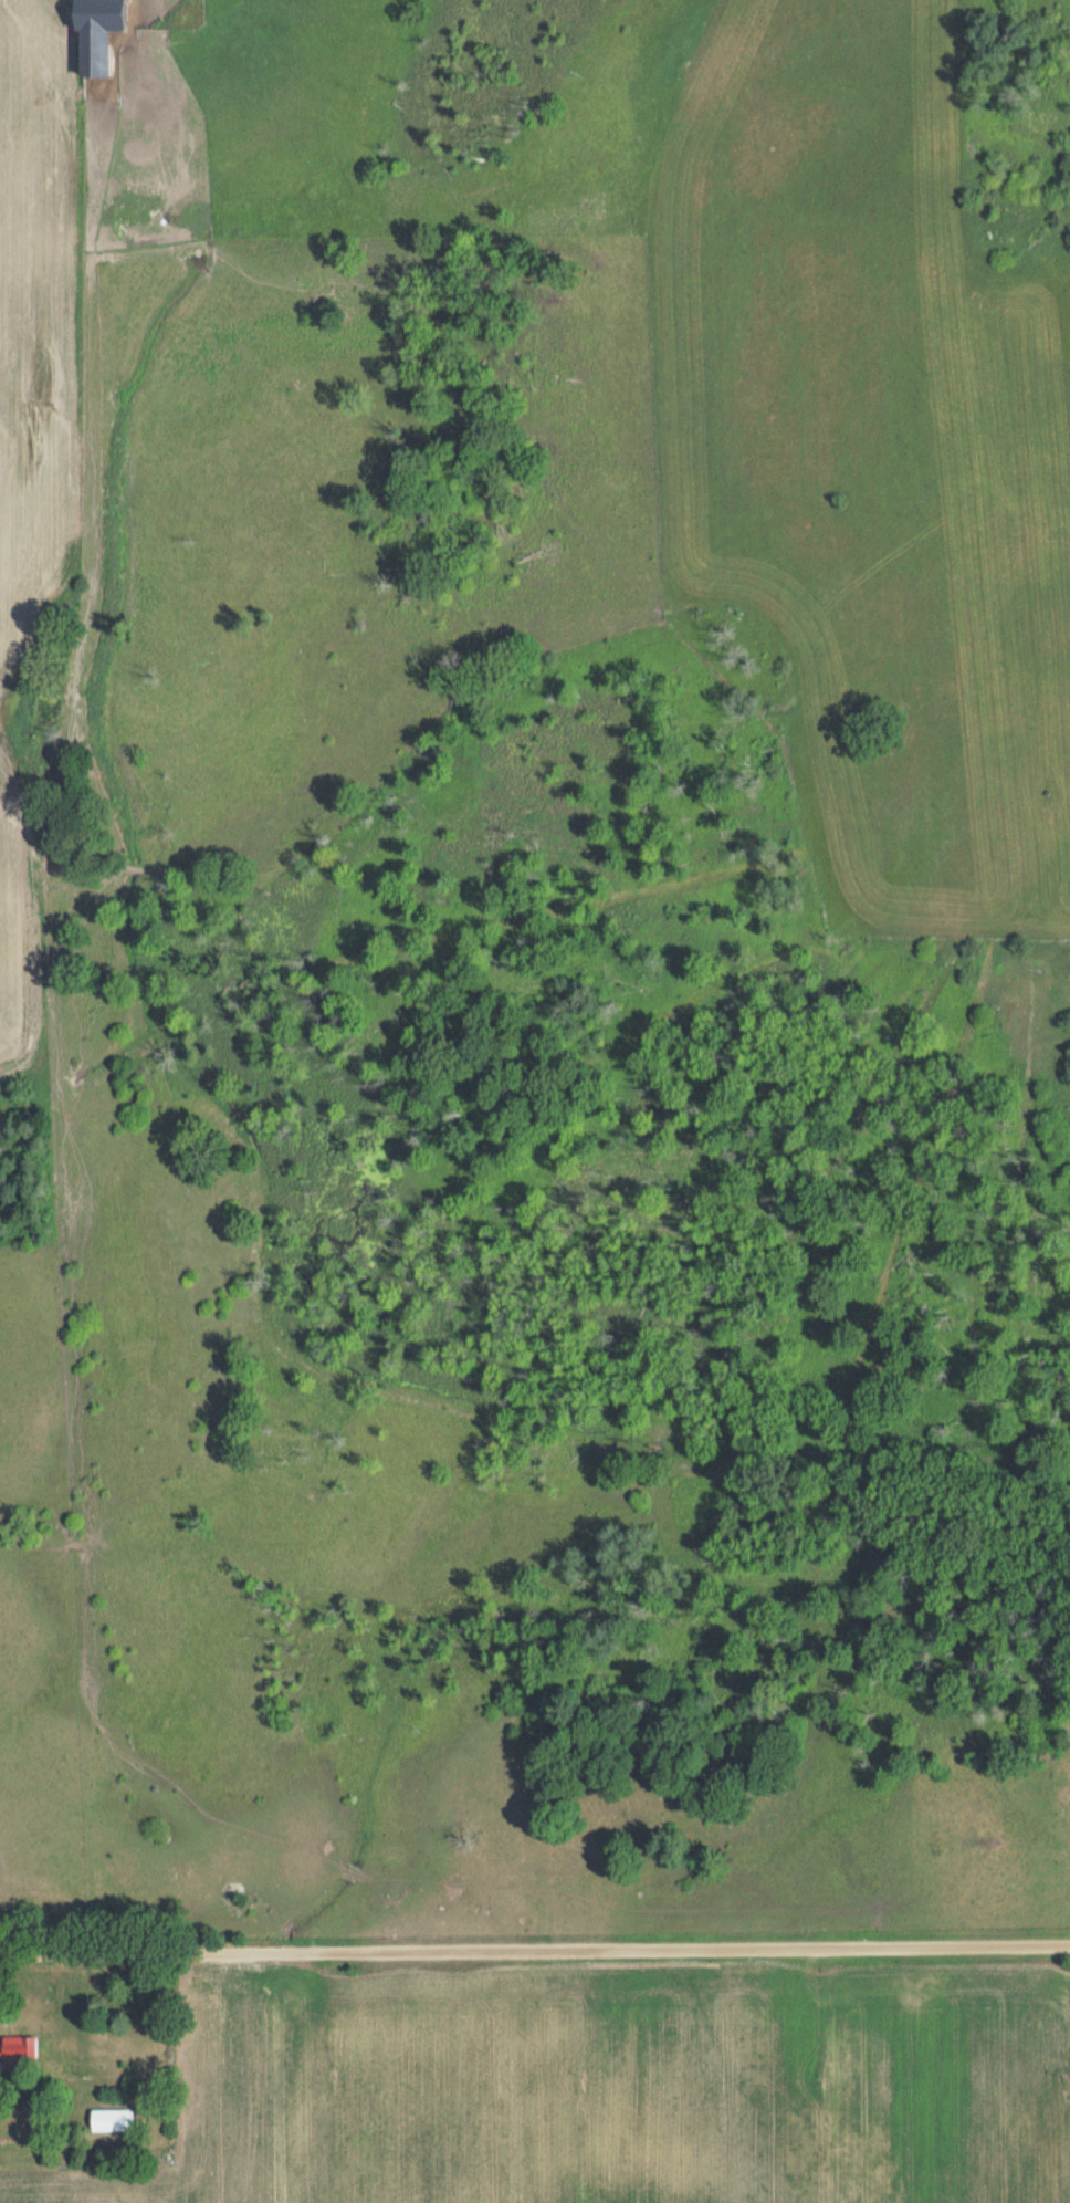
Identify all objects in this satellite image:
building: (95, 32)
road: (535, 1948)
building: (17, 2049)
building: (111, 2119)

